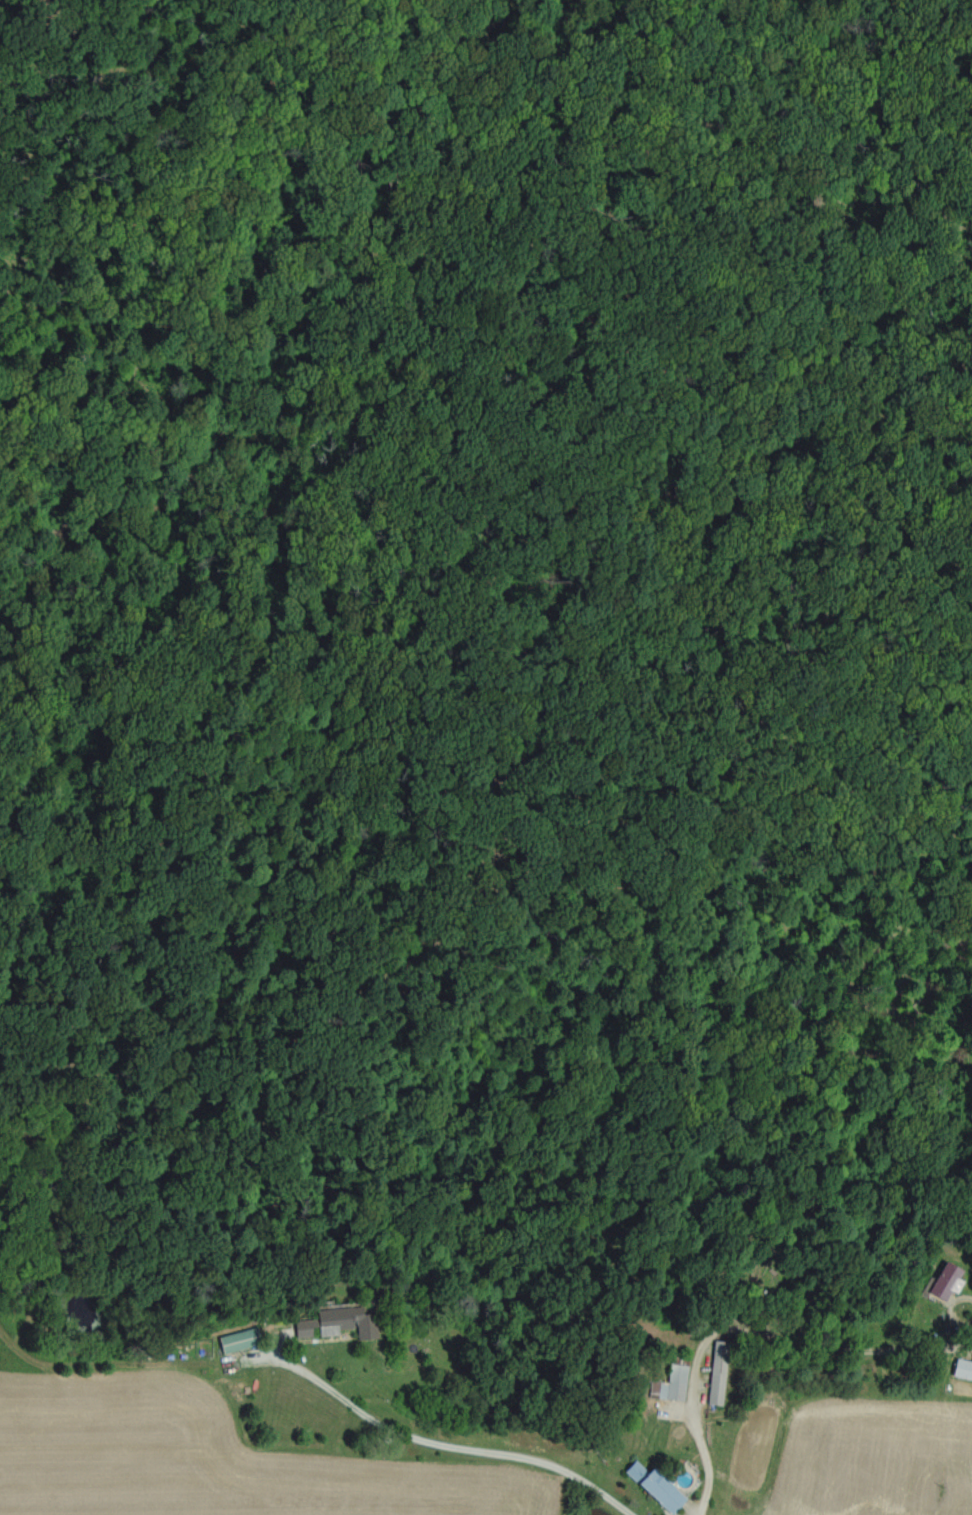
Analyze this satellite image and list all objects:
building: (942, 1280)
building: (335, 1322)
building: (234, 1340)
building: (961, 1368)
building: (714, 1371)
building: (668, 1383)
road: (429, 1448)
road: (690, 1472)
building: (651, 1485)

